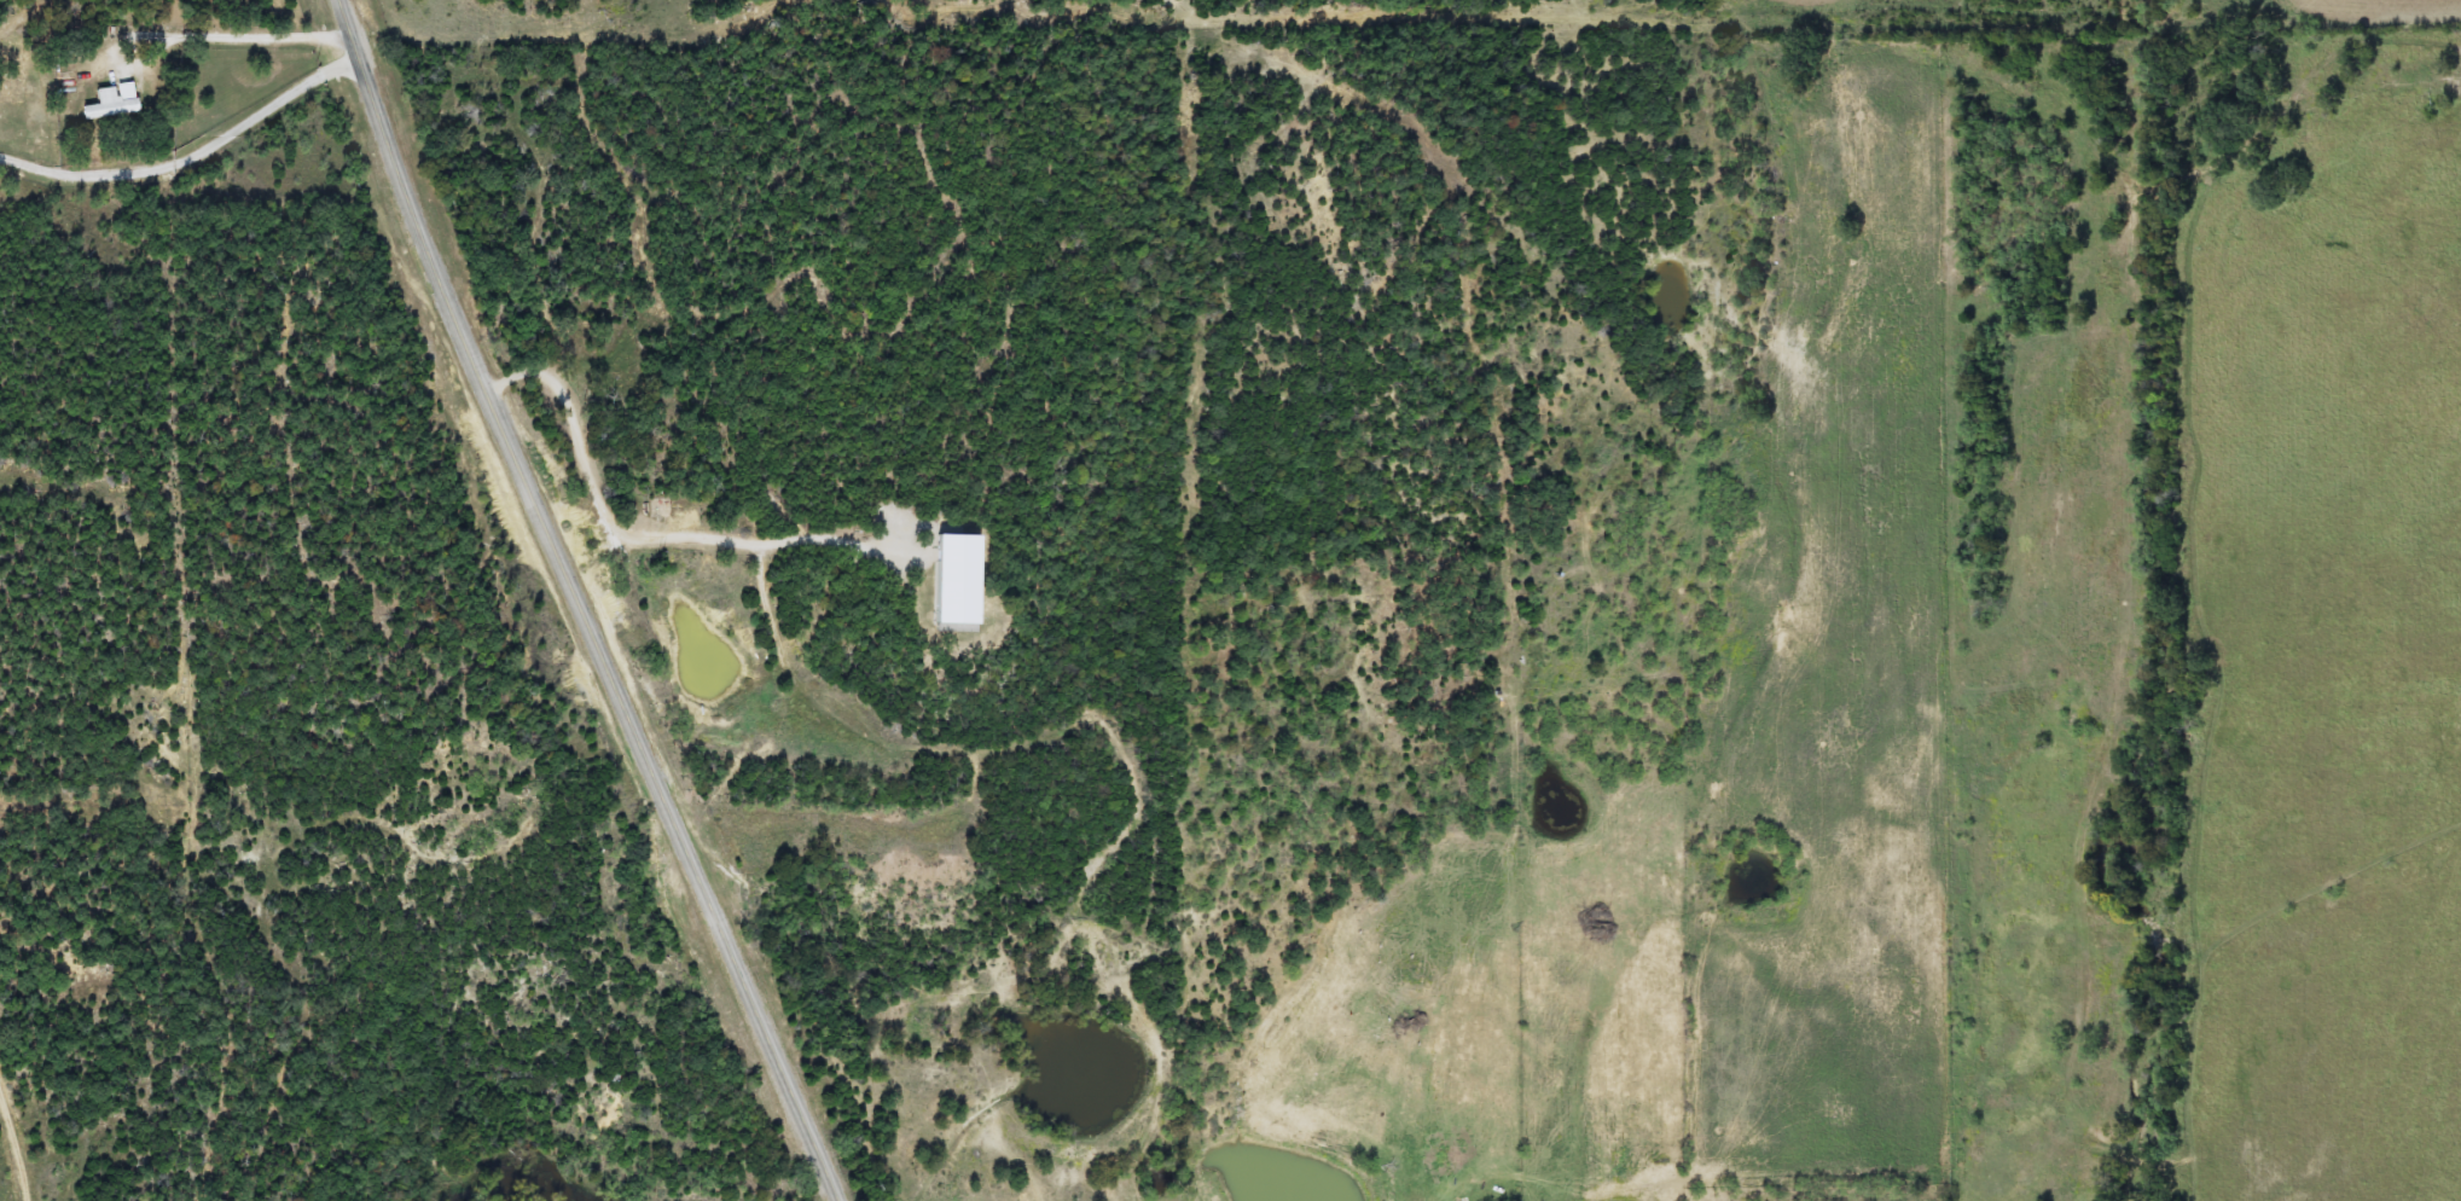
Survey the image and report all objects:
road: (552, 2)
building: (111, 97)
road: (192, 144)
road: (1504, 220)
building: (958, 574)
road: (577, 605)
road: (1511, 683)
road: (12, 1139)

